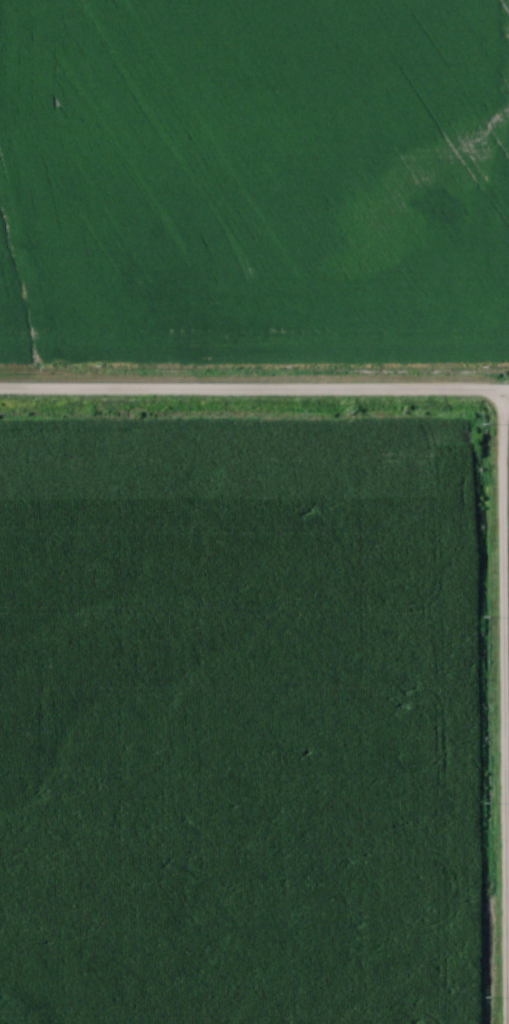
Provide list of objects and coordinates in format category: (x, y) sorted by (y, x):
road: (254, 393)
road: (504, 709)

